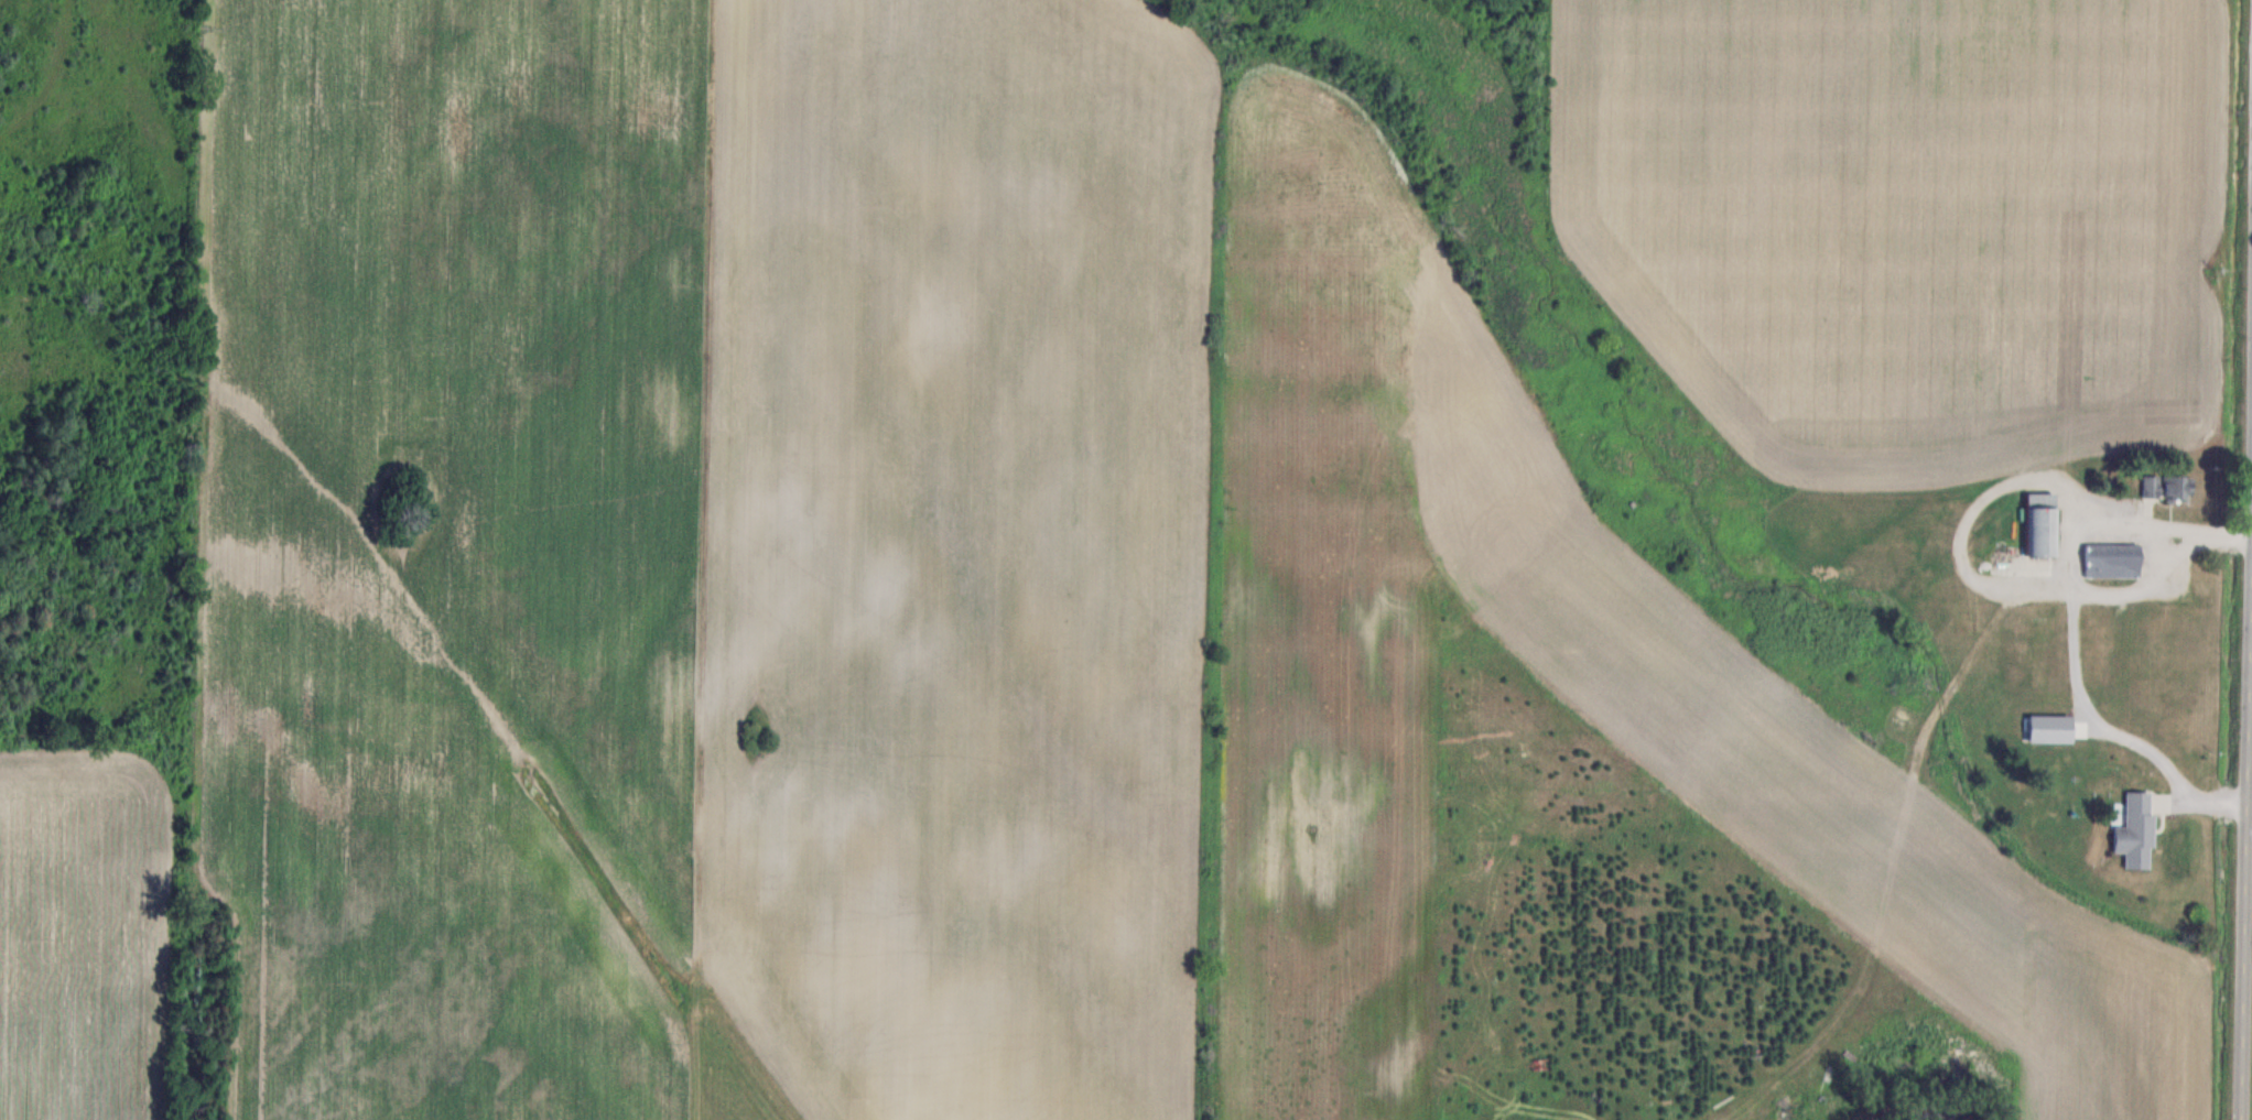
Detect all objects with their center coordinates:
building: (2168, 487)
building: (2043, 524)
building: (2113, 559)
building: (2051, 728)
building: (2137, 830)
road: (2246, 841)

